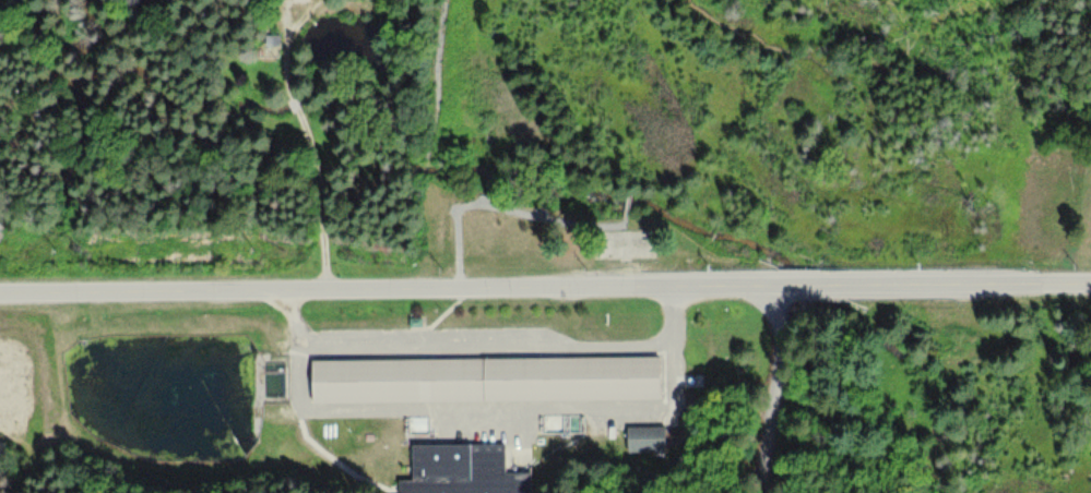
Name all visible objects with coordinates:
road: (628, 201)
road: (502, 208)
road: (545, 290)
parking lot: (432, 342)
road: (488, 344)
building: (488, 376)
road: (772, 390)
building: (647, 438)
building: (463, 470)

